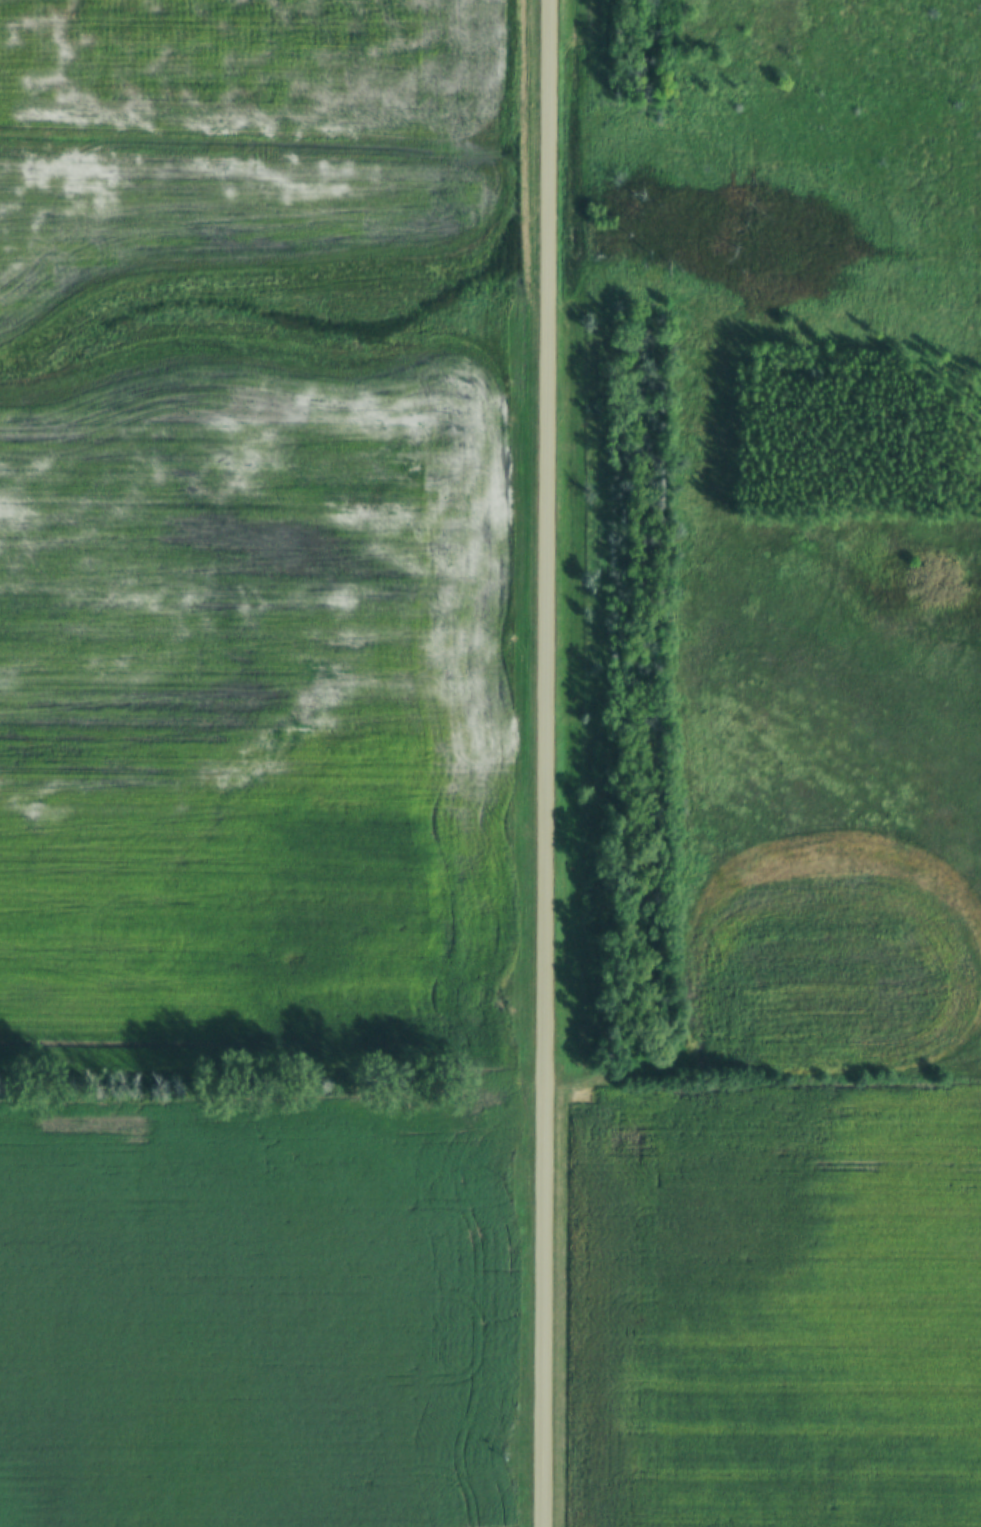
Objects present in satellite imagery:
road: (549, 763)

